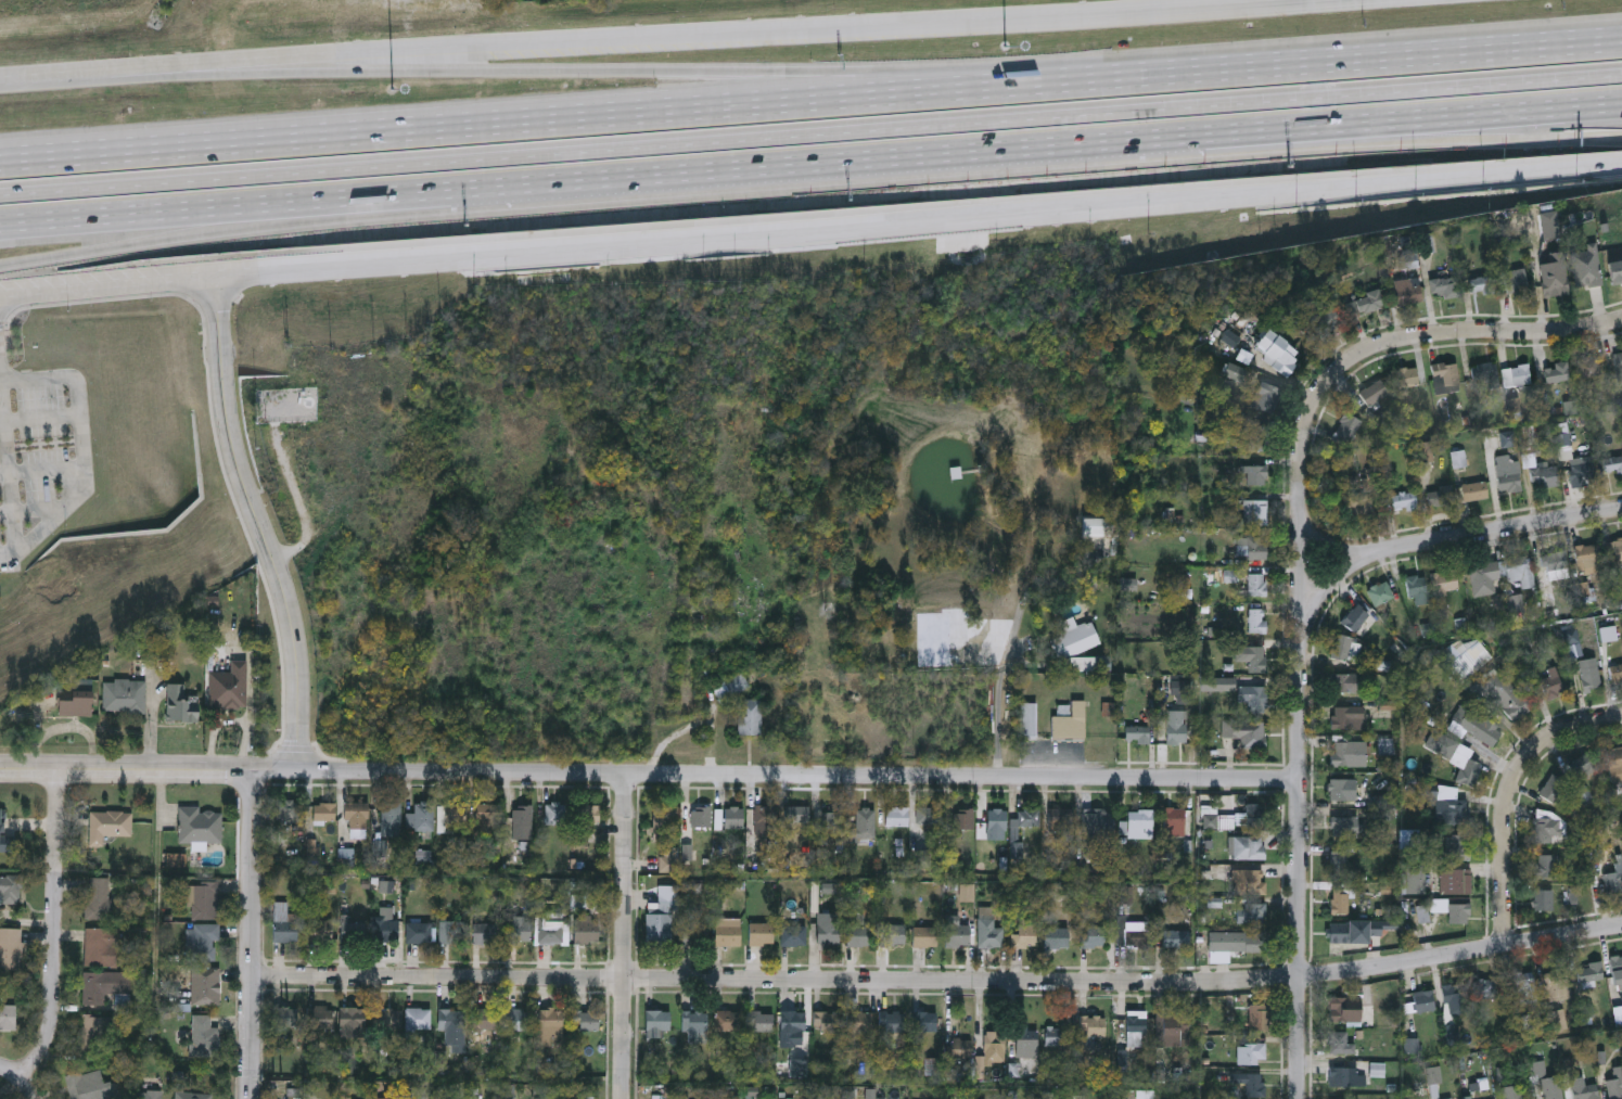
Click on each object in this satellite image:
road: (738, 37)
road: (1293, 66)
road: (566, 68)
road: (85, 74)
road: (1410, 117)
building: (1121, 122)
road: (482, 126)
building: (1007, 126)
road: (810, 135)
road: (1349, 136)
road: (1559, 138)
building: (498, 163)
road: (775, 165)
building: (48, 207)
road: (175, 210)
road: (918, 226)
road: (176, 239)
building: (1586, 266)
building: (1516, 281)
building: (1555, 284)
building: (1481, 285)
building: (1445, 286)
road: (106, 290)
building: (1409, 295)
building: (1367, 303)
road: (13, 305)
building: (1326, 321)
road: (1479, 331)
building: (1279, 353)
building: (1619, 366)
building: (1589, 367)
building: (1234, 372)
building: (1557, 372)
building: (1445, 374)
building: (1520, 374)
building: (1485, 375)
building: (1407, 376)
building: (1374, 393)
building: (1267, 398)
road: (40, 421)
building: (1346, 429)
building: (1260, 437)
building: (1508, 439)
road: (81, 450)
building: (1425, 451)
parking lot: (41, 452)
building: (1612, 465)
road: (8, 468)
road: (40, 472)
building: (1582, 472)
building: (1509, 474)
building: (1255, 475)
building: (1544, 476)
building: (1474, 491)
building: (1441, 497)
building: (1405, 501)
building: (1358, 508)
road: (33, 511)
building: (1255, 512)
road: (256, 527)
building: (1097, 527)
road: (1452, 541)
building: (1256, 548)
building: (1618, 553)
building: (1588, 558)
road: (1302, 562)
building: (1556, 565)
building: (1519, 571)
building: (1484, 577)
building: (1443, 584)
building: (1256, 585)
road: (1329, 588)
building: (1417, 589)
building: (1380, 593)
building: (1355, 617)
building: (1256, 619)
building: (1074, 640)
building: (1345, 649)
building: (1251, 657)
building: (1469, 661)
building: (1617, 673)
building: (1589, 674)
building: (1344, 683)
building: (1548, 686)
building: (229, 687)
building: (731, 688)
building: (124, 695)
building: (1508, 695)
building: (1254, 699)
road: (998, 701)
building: (74, 705)
building: (181, 705)
building: (750, 717)
building: (1350, 718)
building: (1027, 719)
building: (1070, 723)
building: (1477, 726)
building: (1176, 727)
building: (1246, 732)
building: (1137, 733)
building: (1349, 753)
building: (1456, 756)
building: (1614, 759)
building: (1584, 766)
road: (127, 771)
road: (778, 777)
building: (1553, 788)
building: (1343, 789)
road: (1508, 796)
building: (1446, 808)
building: (324, 813)
building: (554, 813)
building: (797, 813)
building: (284, 815)
building: (765, 815)
building: (928, 815)
building: (1251, 815)
building: (423, 816)
building: (700, 816)
building: (896, 816)
building: (456, 817)
building: (587, 817)
building: (733, 817)
building: (1029, 817)
building: (391, 818)
building: (996, 818)
building: (356, 819)
building: (832, 819)
building: (963, 819)
building: (487, 820)
building: (662, 820)
building: (522, 821)
building: (1174, 821)
building: (1059, 822)
building: (864, 823)
building: (1137, 823)
building: (1098, 825)
building: (108, 826)
building: (200, 826)
building: (1544, 826)
building: (1343, 827)
building: (1248, 846)
building: (1459, 847)
building: (1339, 864)
building: (1544, 866)
building: (1249, 881)
building: (1455, 882)
building: (1613, 882)
building: (10, 892)
building: (98, 898)
building: (203, 900)
building: (667, 900)
building: (1544, 900)
building: (1339, 903)
building: (1251, 913)
building: (1458, 913)
building: (283, 923)
road: (53, 927)
building: (319, 928)
building: (827, 928)
building: (988, 928)
building: (657, 929)
building: (387, 930)
building: (519, 930)
building: (586, 930)
building: (857, 930)
building: (693, 931)
building: (353, 932)
building: (419, 932)
building: (451, 932)
building: (551, 932)
building: (728, 932)
building: (1025, 932)
building: (1348, 932)
building: (485, 933)
building: (761, 933)
building: (956, 933)
building: (792, 934)
building: (891, 934)
building: (1136, 934)
road: (254, 936)
building: (923, 936)
building: (1093, 936)
road: (626, 937)
building: (1056, 937)
building: (1176, 937)
road: (1301, 940)
building: (202, 942)
building: (1236, 942)
building: (102, 947)
building: (10, 951)
building: (1617, 972)
building: (1589, 974)
road: (940, 983)
building: (1558, 985)
building: (103, 986)
building: (205, 986)
building: (1484, 988)
building: (1525, 988)
building: (1456, 999)
building: (1425, 1001)
building: (1339, 1010)
building: (8, 1018)
building: (320, 1018)
building: (418, 1018)
building: (450, 1019)
building: (484, 1019)
building: (1257, 1019)
building: (284, 1020)
building: (386, 1020)
building: (518, 1020)
building: (792, 1020)
building: (587, 1021)
building: (694, 1021)
building: (727, 1021)
building: (857, 1021)
building: (352, 1022)
building: (657, 1022)
building: (762, 1022)
building: (827, 1022)
building: (892, 1022)
building: (923, 1022)
building: (549, 1025)
building: (1172, 1027)
building: (1093, 1030)
building: (1135, 1030)
building: (94, 1034)
building: (1055, 1036)
building: (203, 1037)
building: (1026, 1038)
building: (1340, 1044)
building: (960, 1048)
building: (1251, 1053)
road: (26, 1074)
building: (1344, 1077)
building: (1615, 1082)
building: (1251, 1085)
building: (88, 1086)
building: (1551, 1088)
building: (1512, 1091)
building: (1586, 1092)
building: (144, 1095)
building: (193, 1096)

